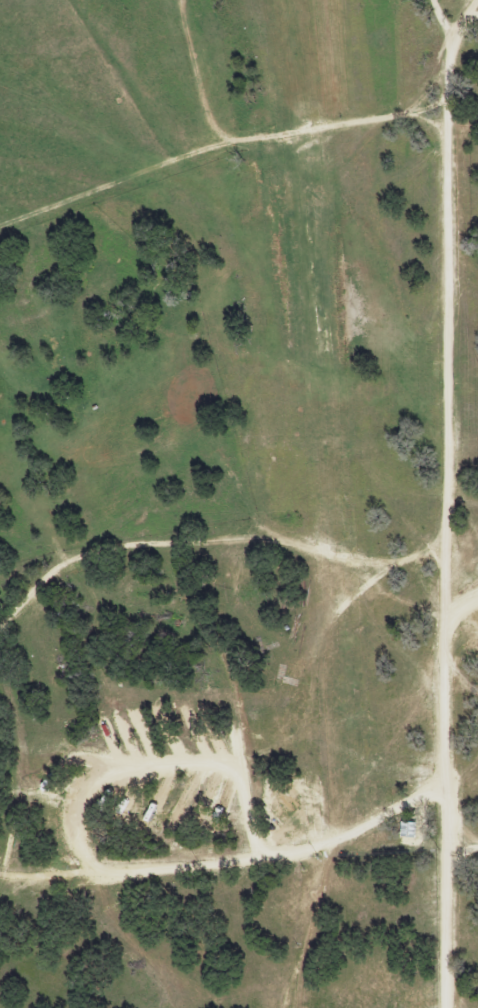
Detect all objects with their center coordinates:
road: (467, 17)
airport runway: (281, 153)
road: (437, 500)
road: (458, 608)
road: (457, 848)

